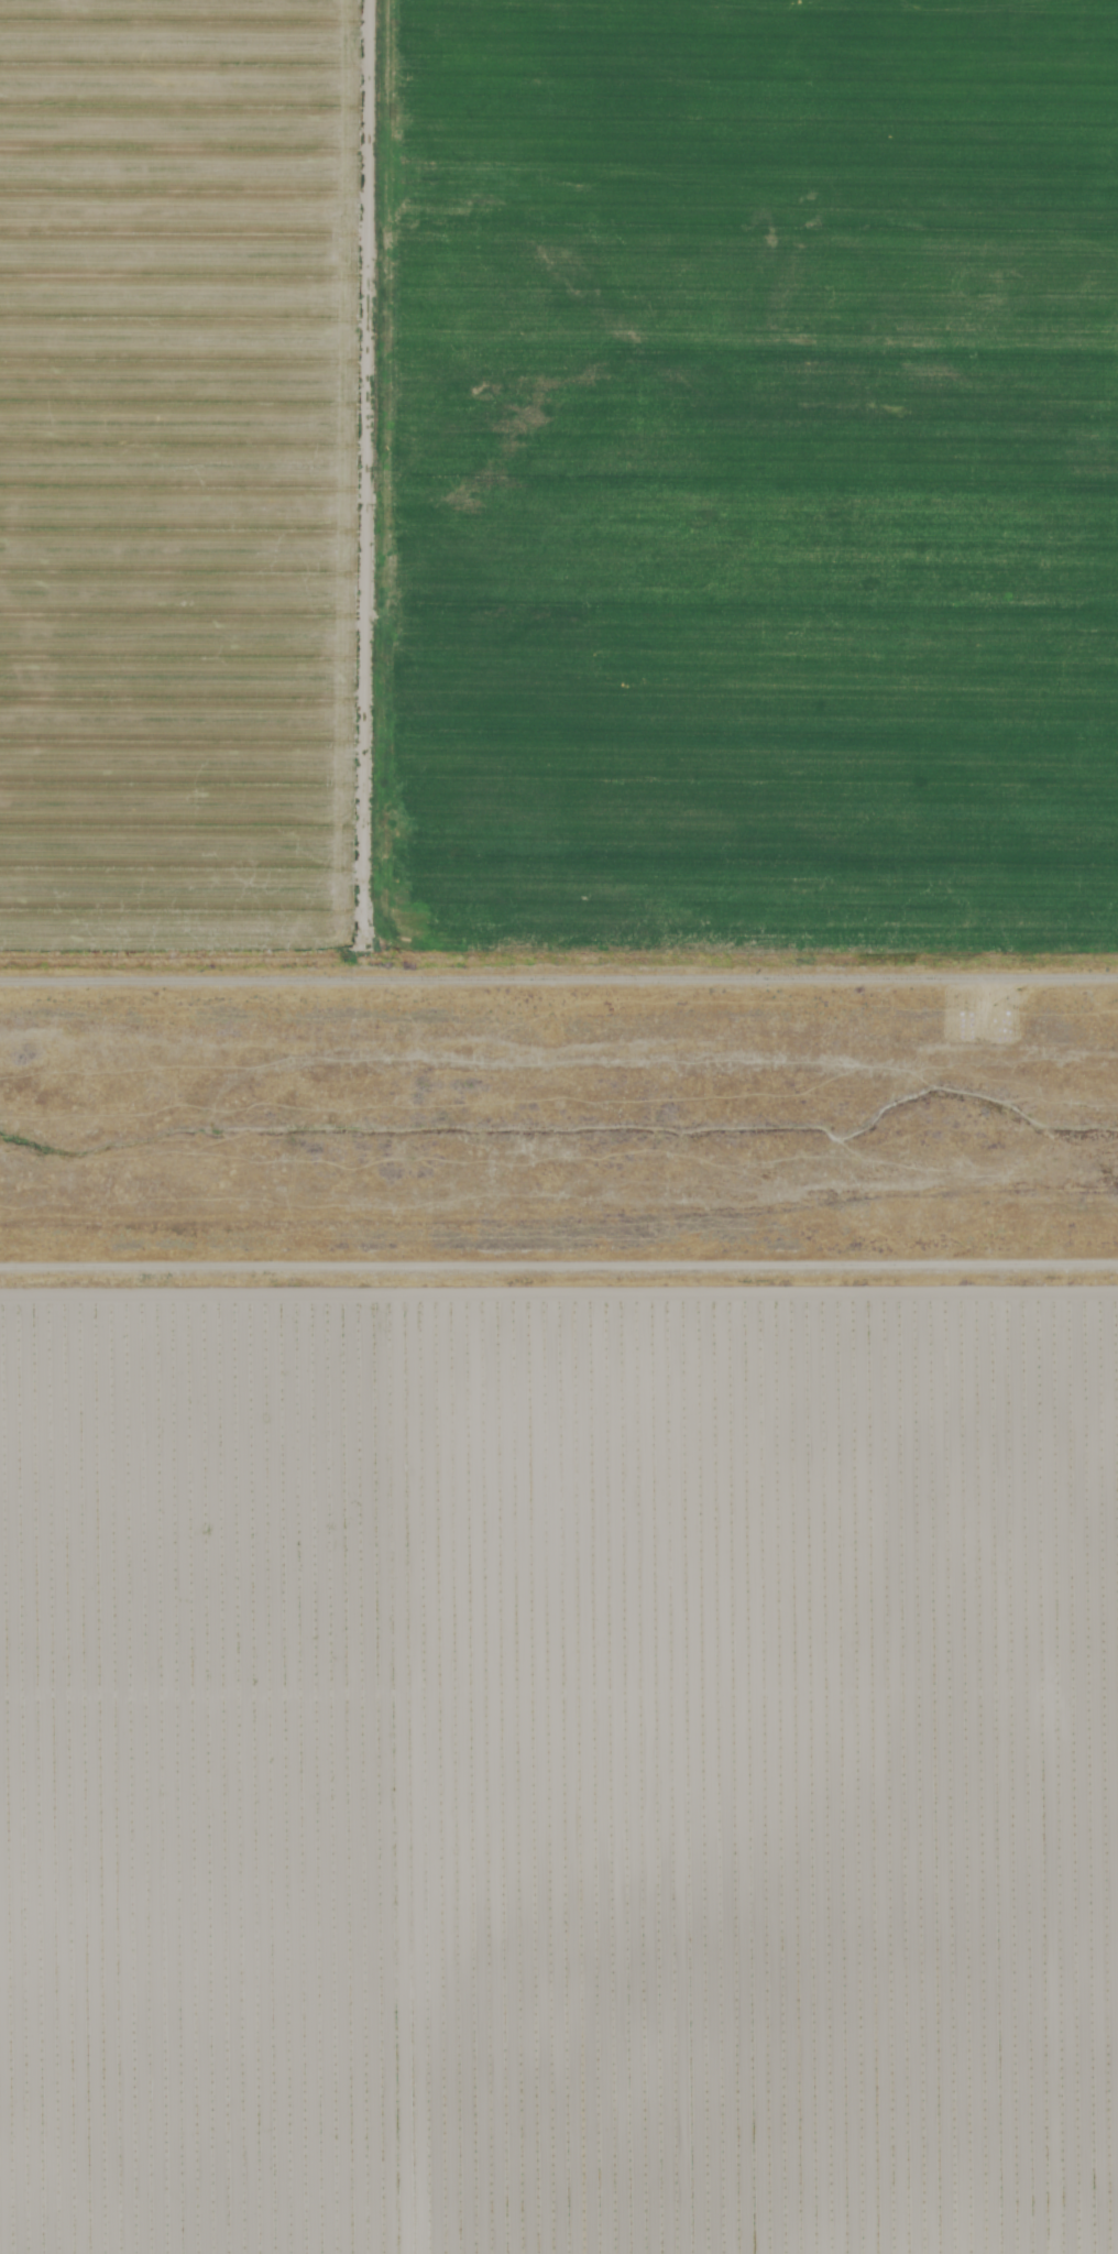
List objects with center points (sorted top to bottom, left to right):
crop: (558, 486)
road: (559, 1269)
crop: (558, 1768)

